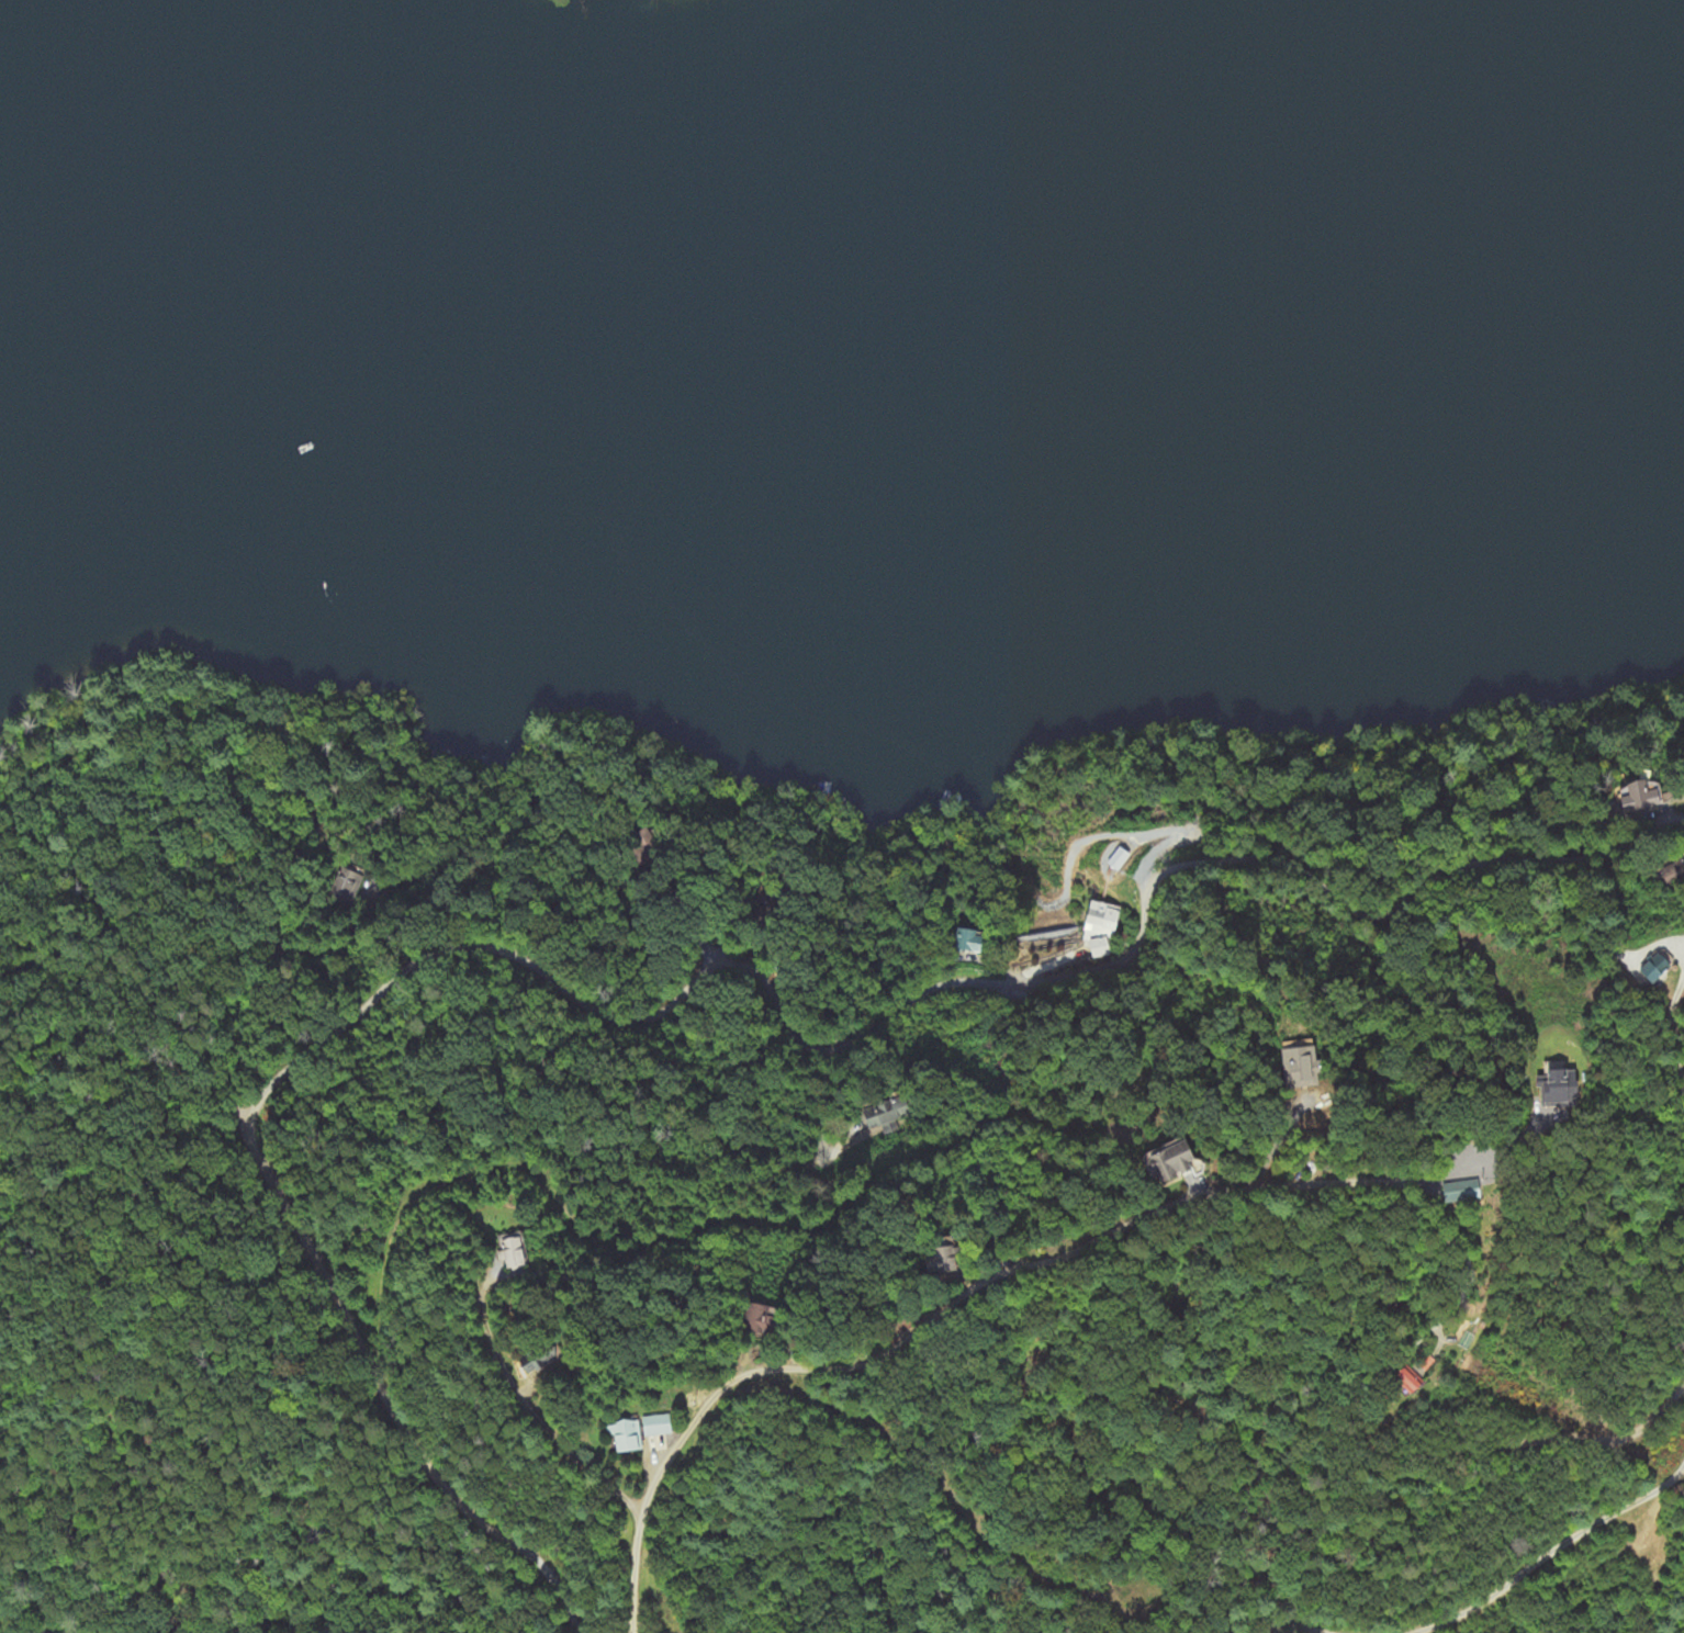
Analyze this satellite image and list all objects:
river: (843, 372)
building: (1638, 798)
building: (347, 888)
building: (1100, 921)
building: (966, 941)
building: (1099, 948)
building: (1654, 968)
road: (695, 980)
road: (260, 986)
building: (1298, 1065)
building: (1556, 1088)
building: (1169, 1162)
road: (1305, 1184)
building: (1460, 1191)
road: (642, 1246)
building: (509, 1253)
building: (1426, 1363)
building: (1406, 1382)
building: (649, 1427)
building: (617, 1437)
road: (1547, 1553)
road: (632, 1567)
road: (1298, 1629)

